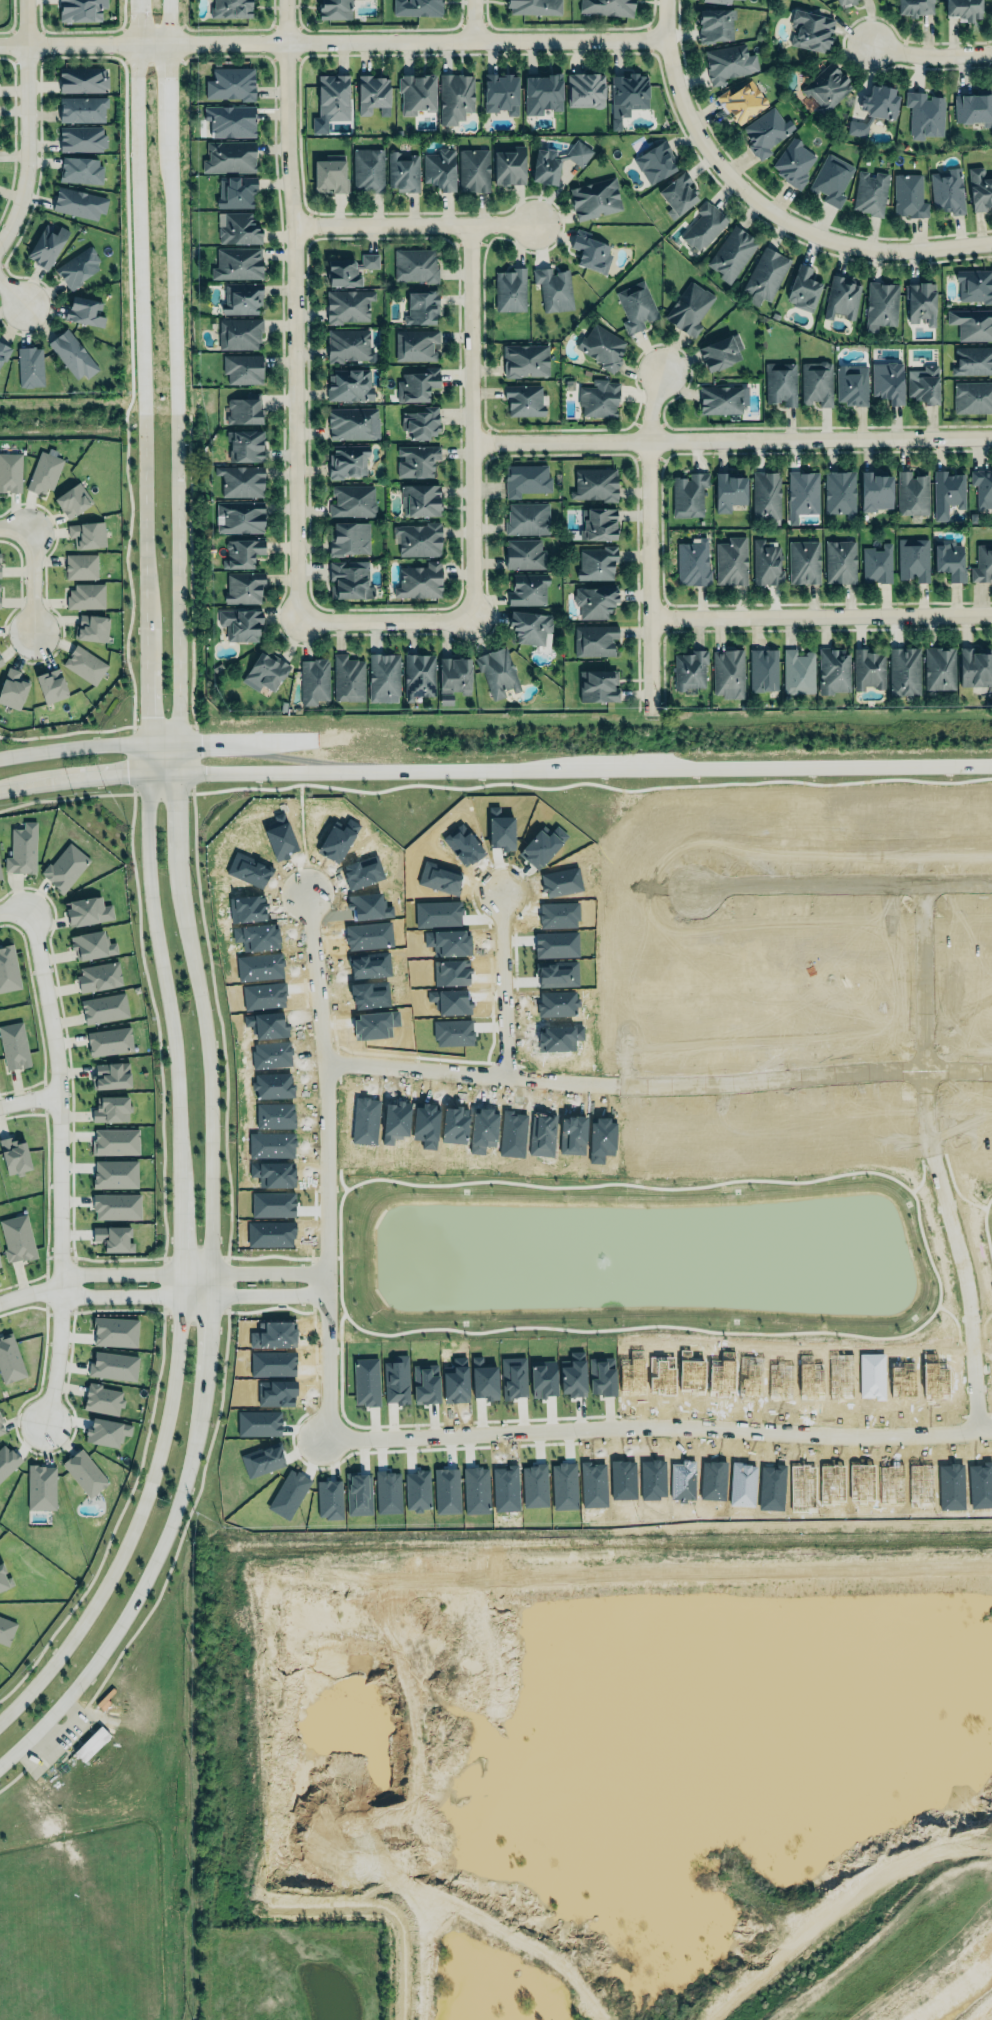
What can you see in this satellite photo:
building: (717, 1)
building: (846, 1)
building: (535, 6)
building: (417, 7)
building: (607, 7)
building: (914, 7)
building: (231, 8)
building: (335, 9)
building: (964, 9)
building: (81, 10)
road: (470, 18)
road: (664, 19)
building: (714, 23)
building: (811, 29)
road: (346, 39)
road: (15, 42)
road: (931, 57)
building: (729, 62)
building: (83, 79)
building: (230, 82)
building: (826, 88)
building: (586, 90)
building: (417, 92)
building: (629, 92)
building: (500, 93)
building: (542, 93)
building: (373, 94)
building: (333, 96)
building: (456, 97)
building: (741, 102)
building: (974, 107)
building: (875, 108)
building: (82, 109)
building: (925, 114)
building: (229, 121)
road: (31, 129)
building: (766, 132)
building: (82, 138)
building: (229, 156)
building: (557, 162)
building: (656, 162)
building: (794, 163)
building: (508, 165)
building: (81, 169)
building: (440, 169)
building: (367, 170)
building: (474, 170)
building: (403, 171)
building: (330, 173)
building: (830, 180)
building: (980, 188)
building: (947, 191)
building: (235, 192)
building: (871, 193)
building: (678, 194)
building: (909, 195)
building: (595, 197)
building: (79, 202)
road: (142, 207)
road: (174, 207)
road: (777, 217)
building: (704, 225)
road: (412, 227)
building: (238, 228)
building: (47, 243)
building: (590, 252)
building: (732, 253)
building: (369, 261)
building: (237, 263)
building: (414, 265)
building: (79, 266)
building: (342, 273)
building: (766, 275)
road: (15, 282)
building: (975, 284)
building: (553, 289)
building: (803, 289)
building: (510, 290)
building: (842, 297)
building: (241, 298)
building: (921, 302)
building: (348, 305)
building: (881, 305)
building: (422, 307)
building: (635, 307)
road: (293, 308)
building: (689, 308)
building: (85, 311)
building: (972, 323)
building: (239, 333)
building: (348, 343)
building: (415, 345)
building: (602, 347)
building: (4, 351)
building: (721, 351)
building: (74, 354)
building: (525, 360)
building: (972, 360)
building: (31, 365)
building: (242, 369)
building: (816, 382)
building: (888, 382)
building: (349, 383)
building: (781, 383)
building: (852, 384)
building: (924, 384)
building: (417, 385)
building: (972, 397)
building: (599, 398)
building: (721, 399)
building: (524, 400)
building: (242, 410)
building: (421, 420)
building: (353, 421)
road: (463, 422)
road: (727, 440)
building: (244, 443)
building: (348, 458)
building: (417, 458)
building: (10, 470)
building: (43, 471)
building: (526, 478)
building: (240, 479)
building: (595, 481)
building: (729, 489)
building: (874, 489)
building: (982, 489)
building: (803, 491)
building: (840, 491)
building: (948, 491)
building: (688, 492)
building: (912, 492)
building: (766, 493)
building: (72, 498)
building: (352, 499)
building: (420, 500)
building: (239, 515)
building: (527, 518)
building: (598, 521)
road: (16, 527)
building: (87, 531)
building: (349, 536)
building: (418, 538)
road: (145, 540)
road: (648, 545)
building: (524, 552)
building: (242, 553)
building: (913, 557)
building: (950, 557)
building: (731, 560)
building: (693, 561)
building: (766, 561)
building: (804, 562)
building: (840, 562)
building: (983, 562)
building: (597, 563)
building: (877, 564)
building: (80, 566)
road: (177, 578)
building: (349, 578)
road: (32, 579)
building: (419, 581)
building: (244, 585)
building: (528, 588)
building: (86, 594)
building: (595, 599)
road: (382, 618)
road: (820, 618)
building: (240, 621)
building: (530, 625)
building: (91, 628)
building: (594, 638)
building: (1, 660)
building: (0, 662)
building: (84, 664)
building: (763, 667)
building: (974, 667)
building: (868, 668)
building: (939, 668)
building: (265, 669)
building: (497, 670)
building: (690, 670)
building: (798, 670)
building: (904, 670)
building: (728, 671)
building: (833, 671)
building: (419, 673)
building: (454, 673)
building: (384, 675)
building: (348, 677)
building: (313, 678)
building: (50, 684)
building: (598, 684)
building: (12, 687)
road: (146, 702)
road: (162, 741)
road: (73, 746)
road: (230, 752)
road: (147, 757)
road: (637, 769)
road: (230, 771)
road: (163, 773)
road: (73, 779)
building: (22, 849)
building: (65, 865)
building: (0, 873)
building: (0, 878)
road: (840, 879)
road: (14, 908)
building: (88, 910)
building: (93, 942)
road: (142, 959)
building: (7, 968)
road: (936, 973)
building: (98, 974)
road: (320, 978)
road: (502, 985)
building: (104, 1006)
road: (37, 1016)
building: (107, 1040)
building: (12, 1045)
road: (798, 1070)
road: (467, 1073)
building: (108, 1074)
road: (71, 1092)
road: (44, 1097)
road: (29, 1099)
building: (109, 1107)
road: (226, 1137)
building: (113, 1141)
building: (14, 1155)
road: (59, 1163)
building: (113, 1172)
road: (46, 1194)
building: (116, 1206)
building: (17, 1238)
building: (113, 1238)
road: (327, 1244)
road: (969, 1246)
road: (269, 1255)
road: (59, 1256)
road: (325, 1256)
fountain: (599, 1256)
road: (194, 1257)
road: (929, 1260)
building: (0, 1266)
road: (181, 1271)
road: (191, 1272)
road: (210, 1281)
road: (74, 1284)
road: (162, 1284)
road: (313, 1284)
road: (46, 1289)
road: (29, 1292)
road: (192, 1296)
road: (271, 1307)
road: (195, 1311)
road: (59, 1314)
building: (114, 1331)
building: (9, 1359)
building: (113, 1365)
building: (102, 1399)
building: (0, 1418)
road: (658, 1427)
road: (990, 1427)
building: (1, 1428)
building: (104, 1431)
road: (57, 1449)
building: (7, 1460)
building: (83, 1471)
building: (41, 1487)
road: (116, 1518)
building: (3, 1580)
building: (6, 1630)
building: (91, 1743)
quarry: (602, 1771)

